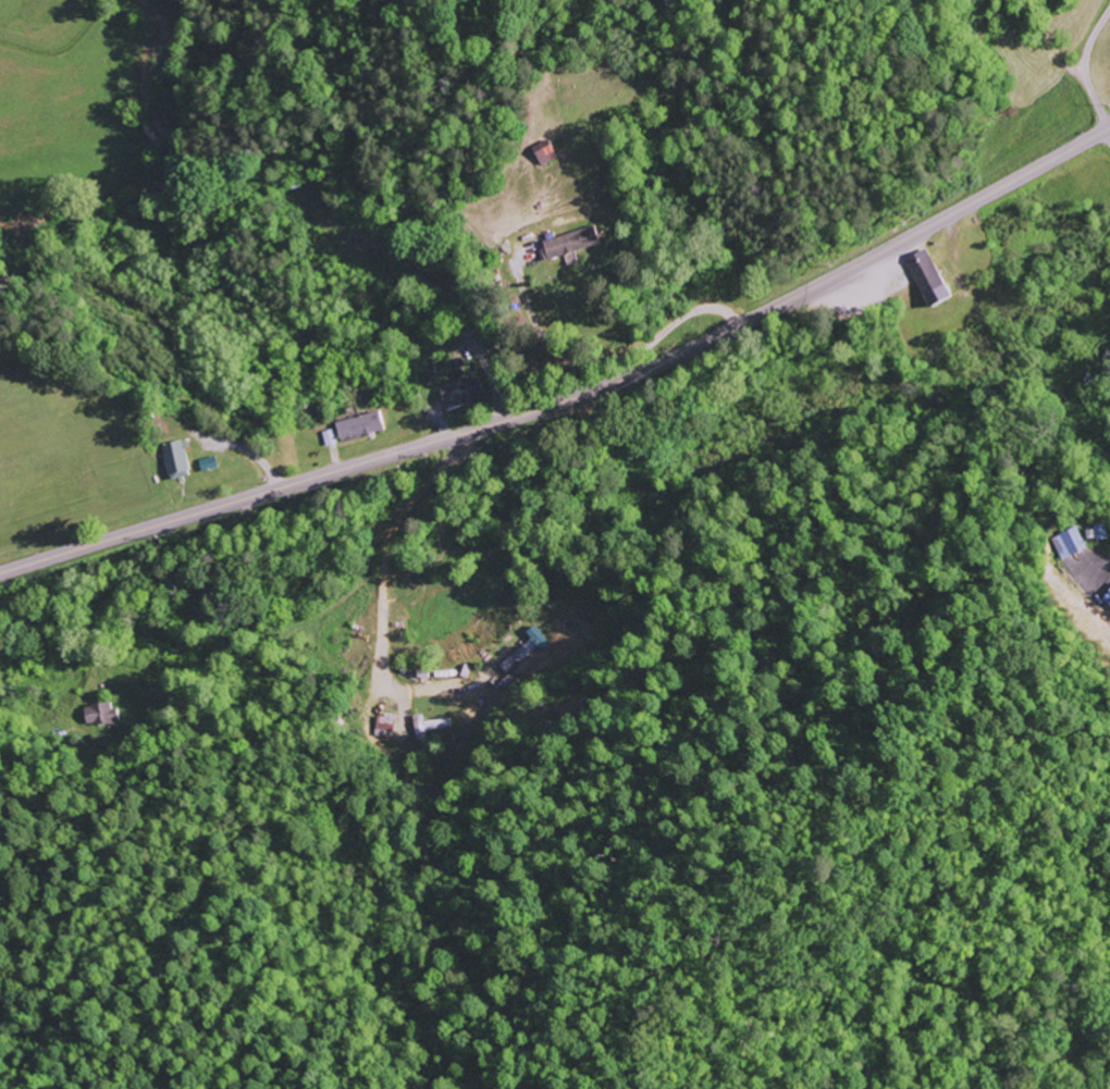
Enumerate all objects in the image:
road: (1044, 39)
road: (1083, 67)
building: (544, 152)
road: (814, 194)
road: (740, 203)
building: (570, 242)
building: (926, 277)
building: (461, 392)
road: (573, 399)
building: (359, 425)
building: (176, 459)
building: (1068, 543)
building: (1106, 598)
building: (99, 715)
road: (2, 719)
building: (429, 723)
building: (383, 725)

